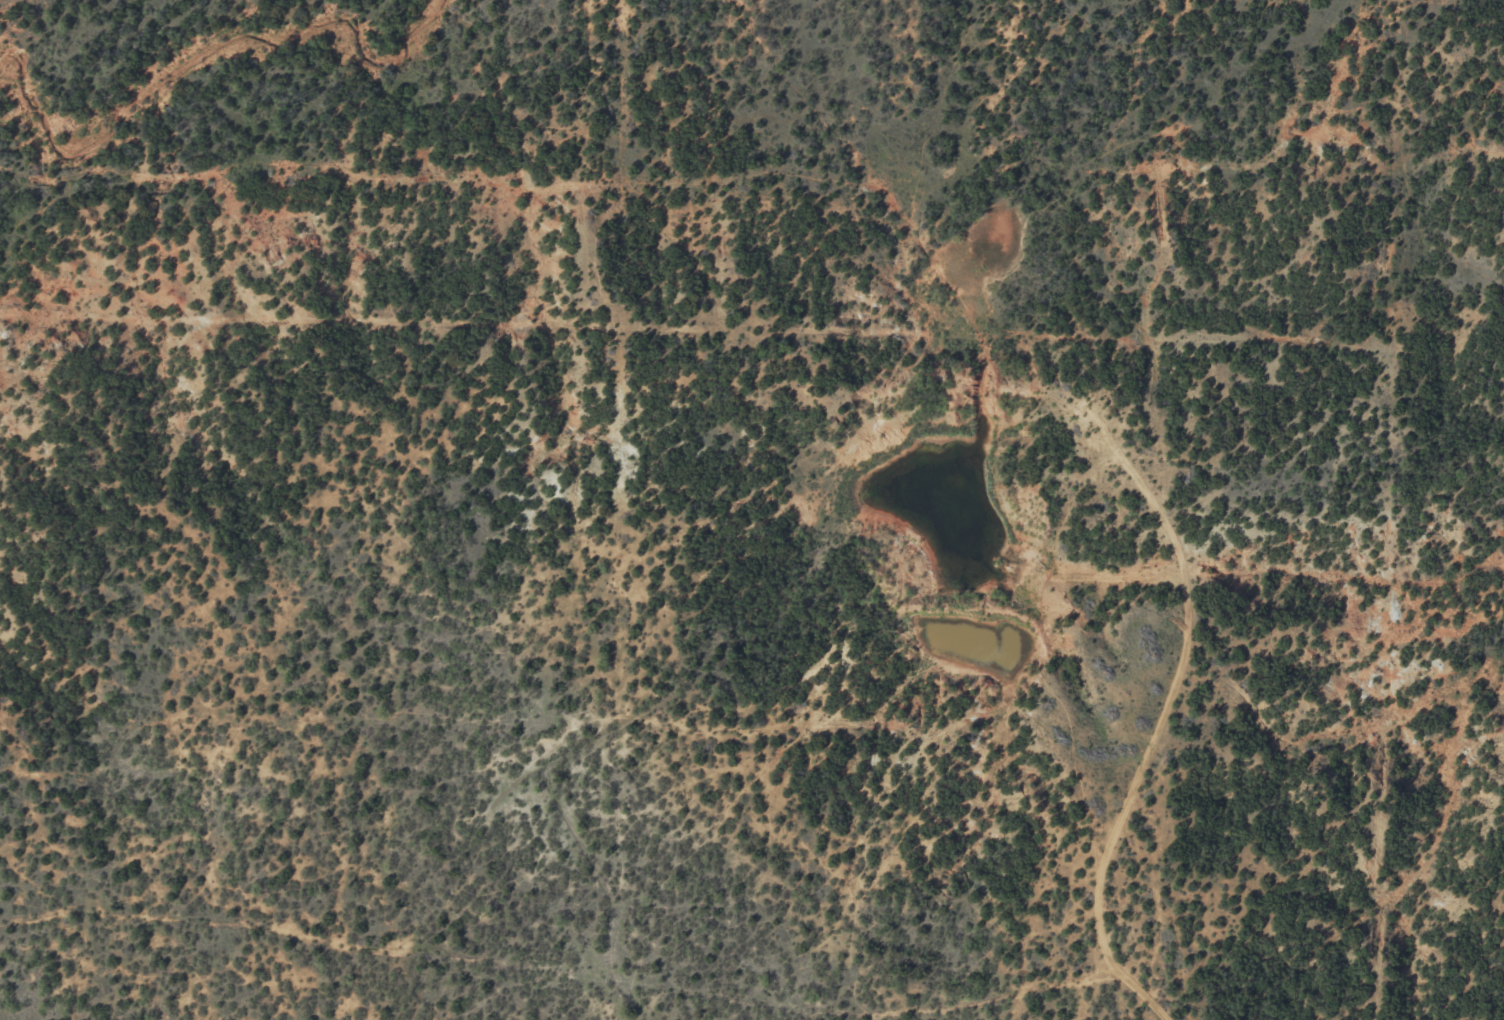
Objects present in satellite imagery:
road: (1128, 801)

